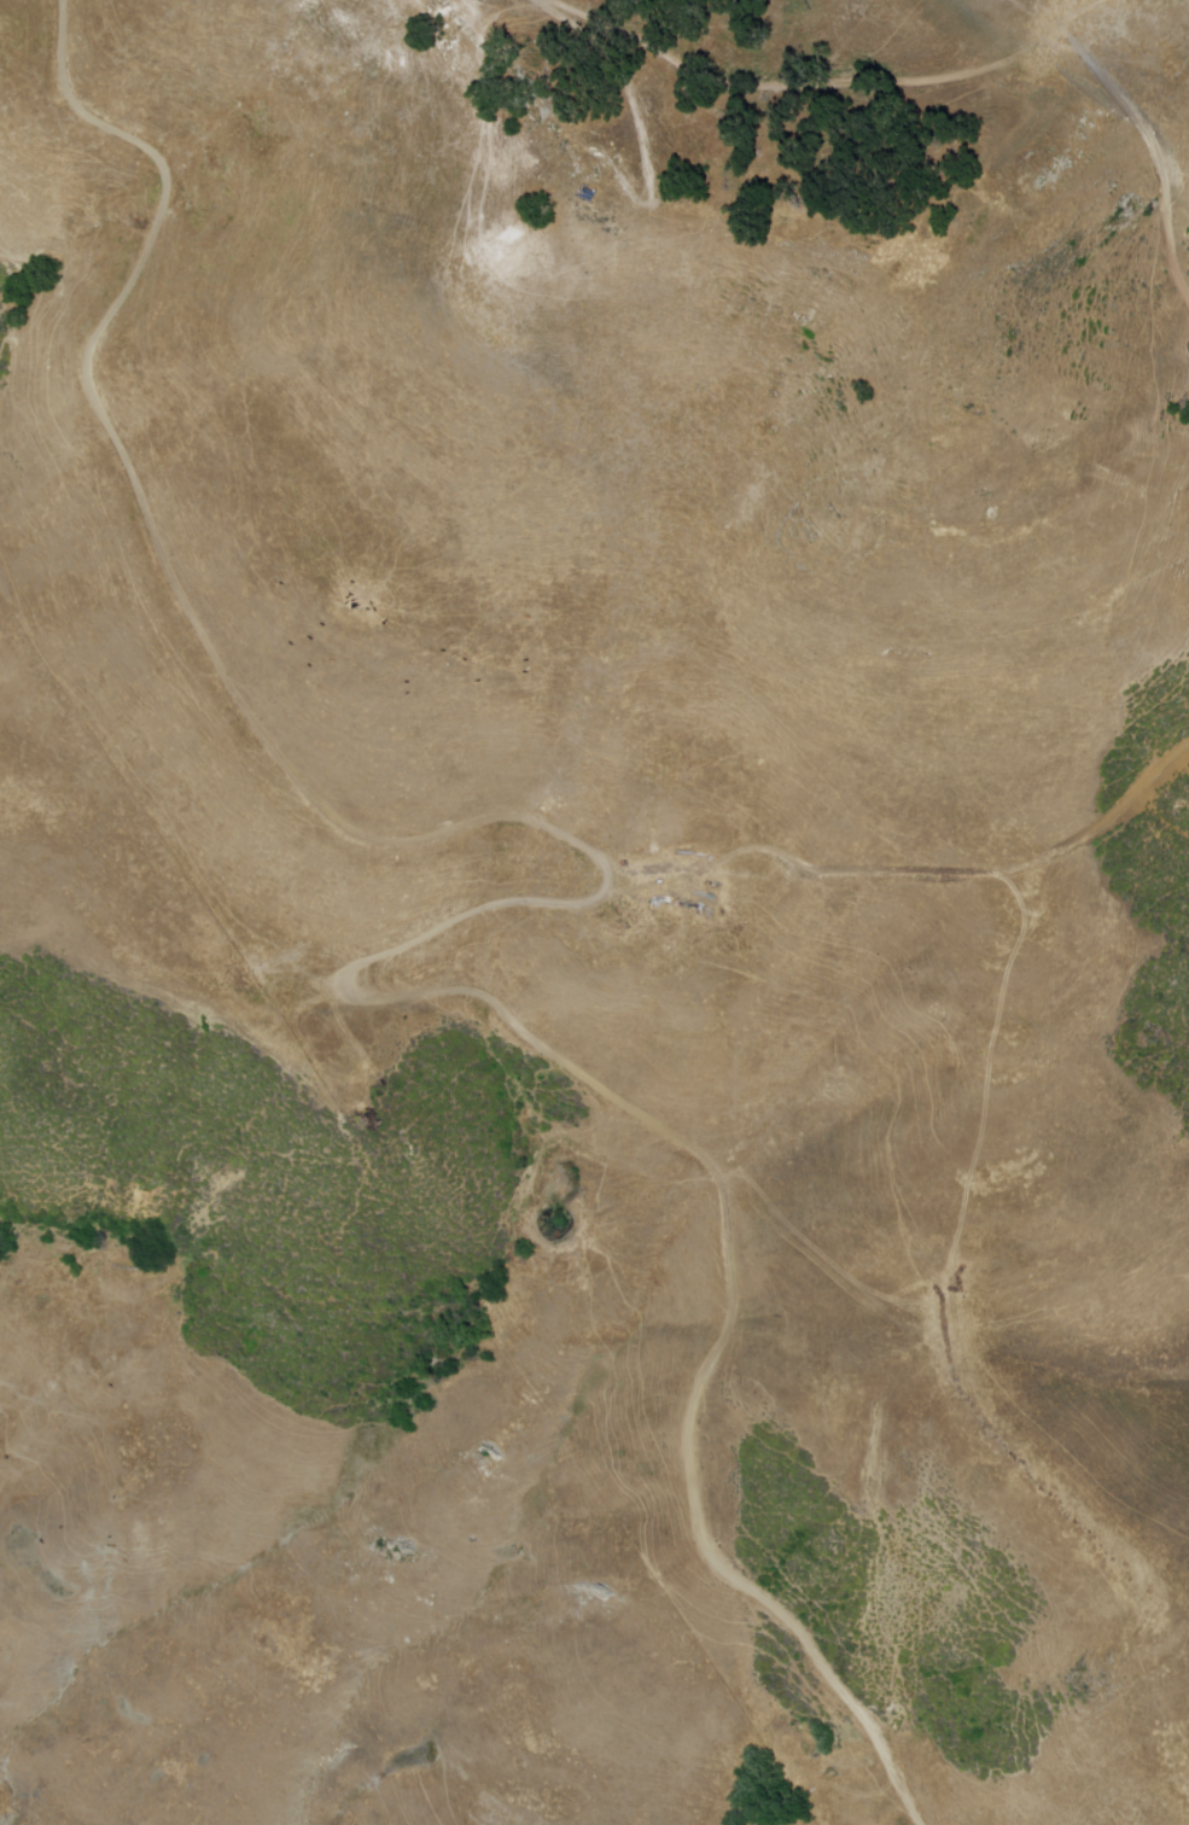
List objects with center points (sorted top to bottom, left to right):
road: (1053, 30)
road: (529, 904)

